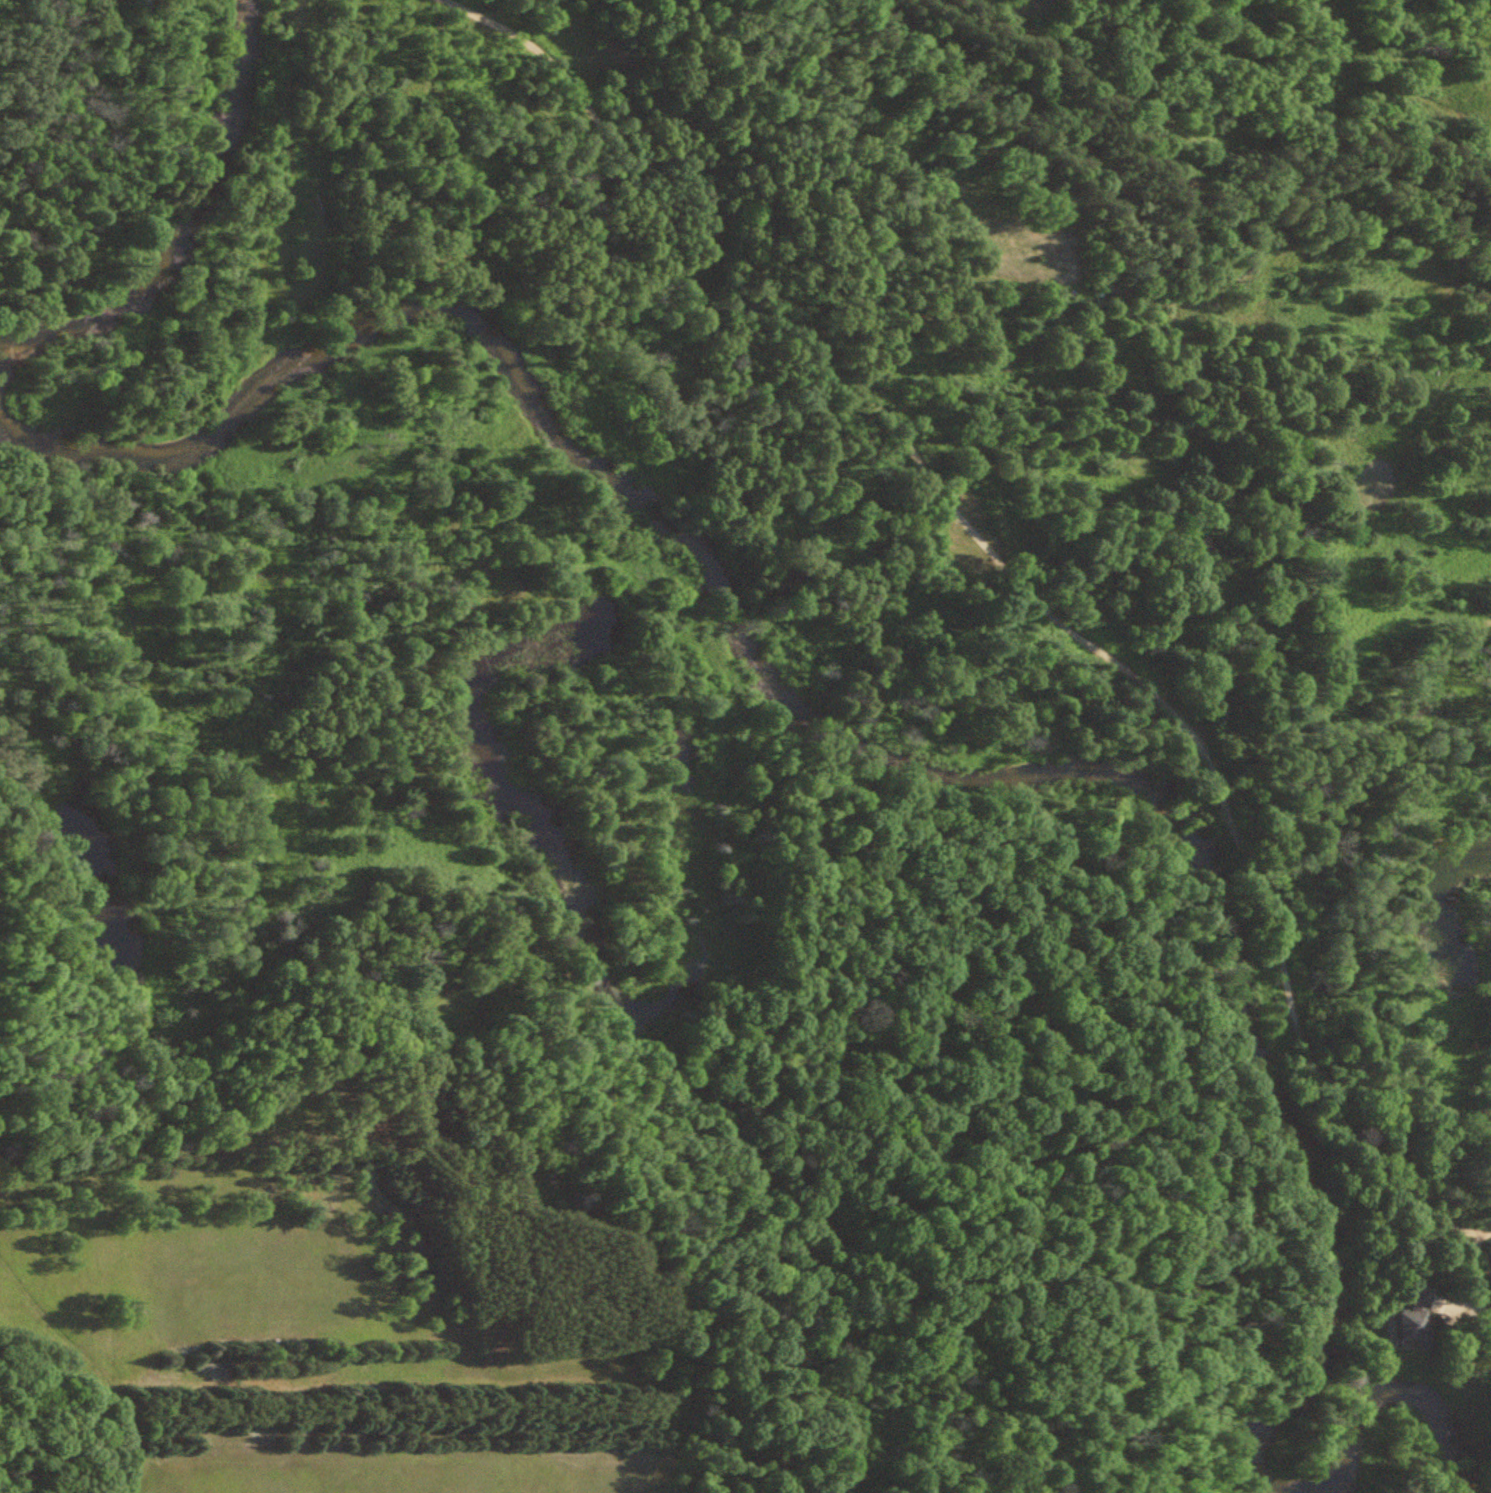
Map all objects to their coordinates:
river: (185, 230)
road: (1009, 581)
river: (833, 735)
building: (1406, 1317)
river: (1397, 1391)

